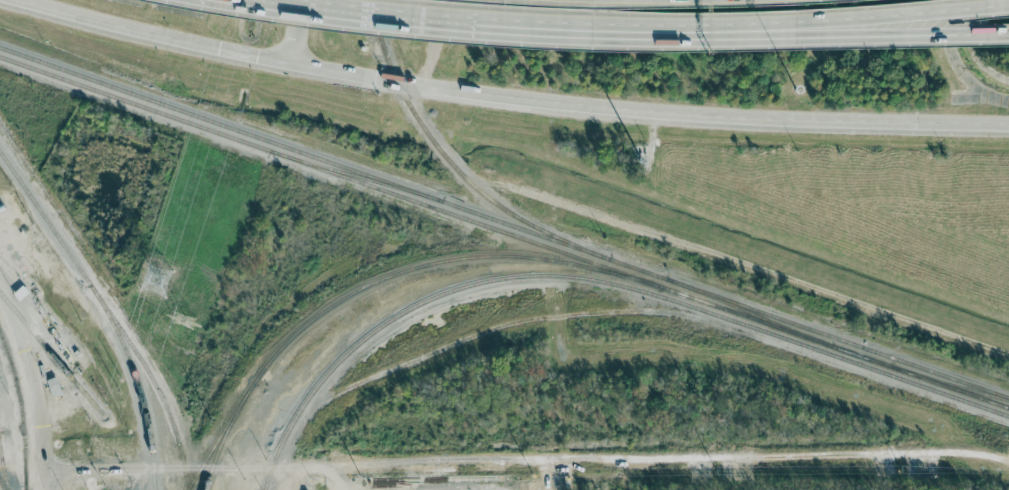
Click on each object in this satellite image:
road: (854, 20)
road: (486, 25)
road: (296, 30)
road: (854, 33)
railway: (393, 73)
road: (513, 97)
railway: (304, 152)
railway: (442, 152)
railway: (329, 171)
railway: (355, 174)
railway: (524, 220)
road: (757, 266)
railway: (636, 268)
power tower: (156, 278)
railway: (377, 280)
railway: (597, 280)
railway: (747, 311)
railway: (109, 313)
power tower: (183, 319)
railway: (837, 337)
railway: (834, 346)
railway: (51, 355)
railway: (137, 382)
railway: (949, 383)
road: (34, 389)
railway: (20, 410)
railway: (224, 434)
road: (528, 462)
railway: (3, 472)
road: (301, 478)
railway: (1, 485)

